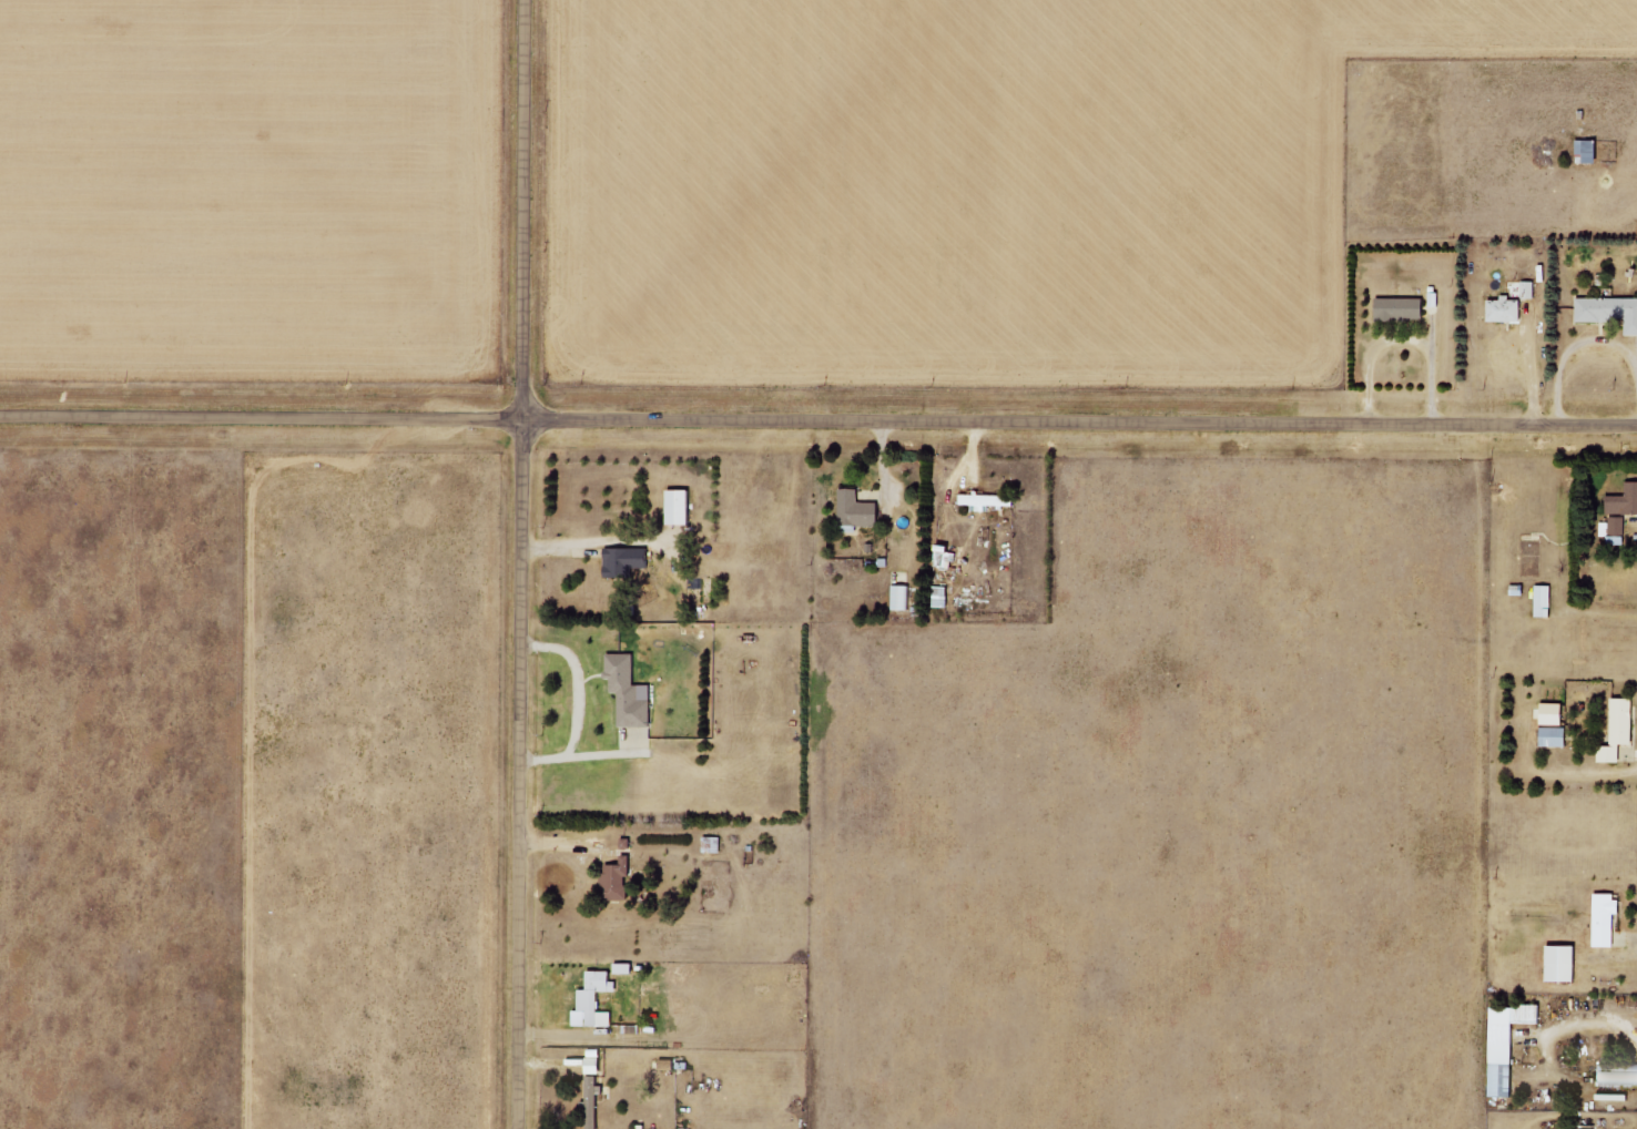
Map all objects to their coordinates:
building: (1527, 289)
building: (1396, 308)
building: (1502, 309)
building: (1608, 312)
road: (818, 420)
building: (990, 500)
building: (1623, 501)
building: (682, 507)
building: (860, 509)
building: (1616, 525)
building: (630, 561)
road: (521, 563)
building: (904, 597)
building: (945, 597)
building: (1541, 601)
building: (631, 691)
building: (1556, 713)
building: (1623, 730)
building: (1557, 736)
building: (618, 882)
building: (1609, 919)
building: (1567, 964)
building: (627, 968)
building: (599, 998)
building: (1512, 1045)
building: (597, 1061)
building: (1619, 1075)
building: (596, 1084)
building: (596, 1106)

